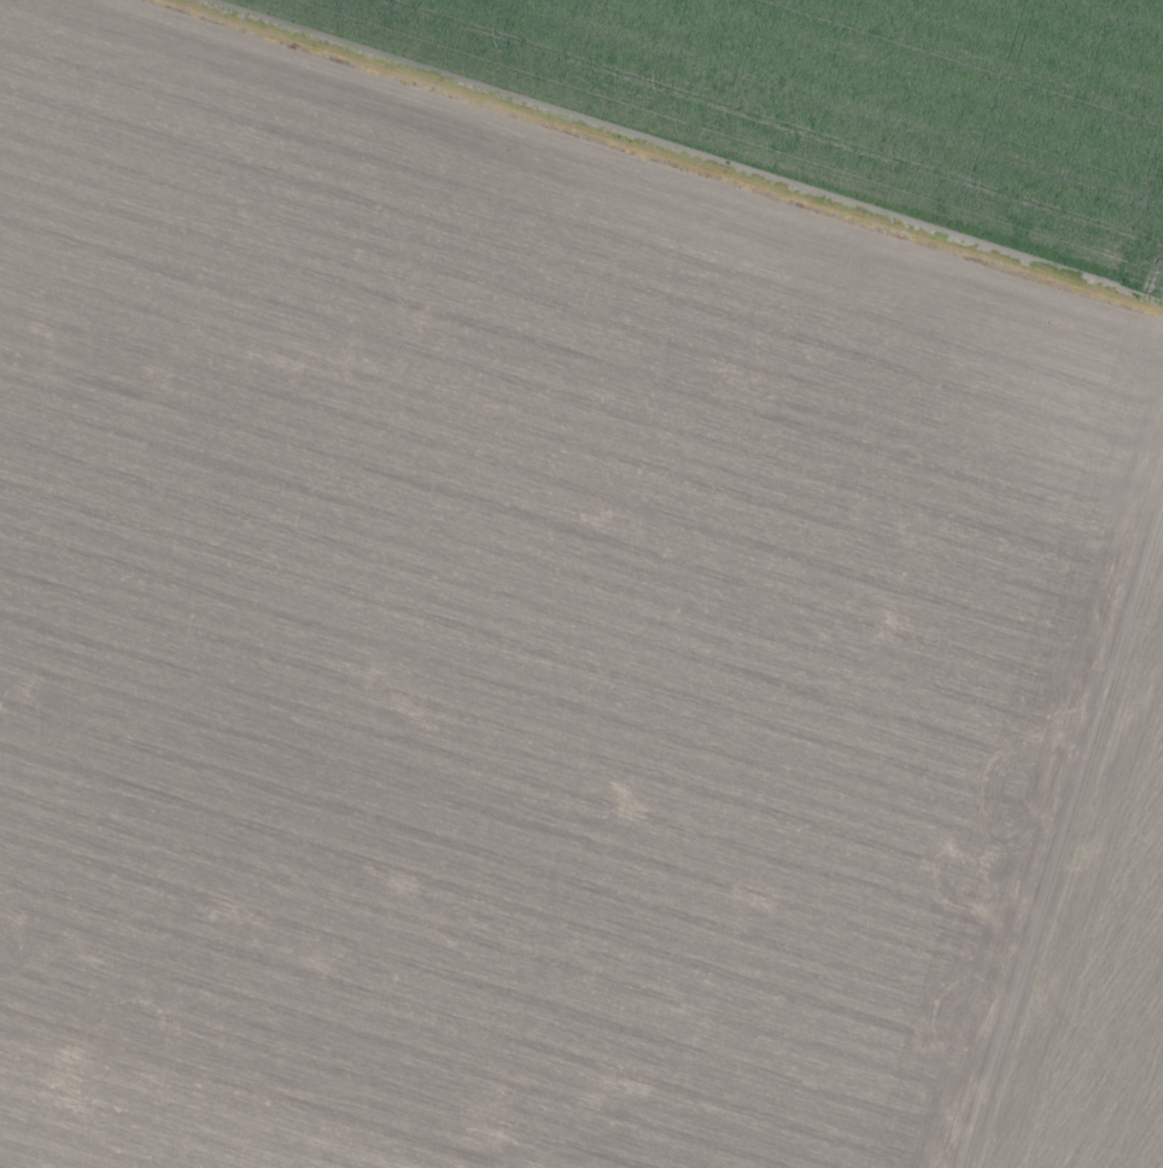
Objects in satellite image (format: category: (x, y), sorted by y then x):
road: (642, 159)
road: (1065, 865)

